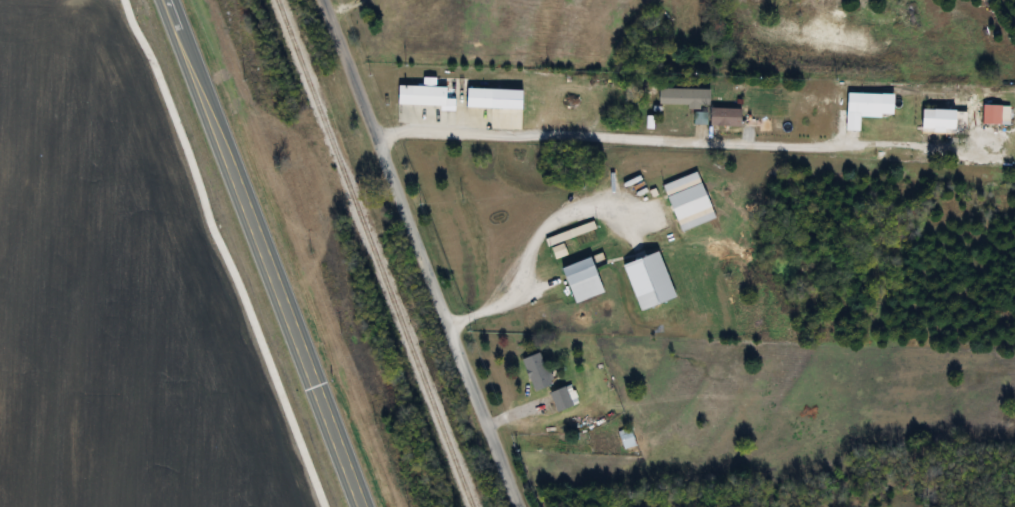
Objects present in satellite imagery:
road: (342, 7)
building: (422, 94)
building: (477, 98)
building: (682, 98)
building: (862, 103)
building: (989, 114)
building: (935, 119)
road: (606, 138)
road: (922, 153)
building: (685, 196)
road: (261, 253)
railway: (373, 253)
road: (415, 253)
building: (580, 280)
building: (646, 281)
road: (490, 301)
building: (535, 372)
building: (561, 398)
building: (625, 438)

